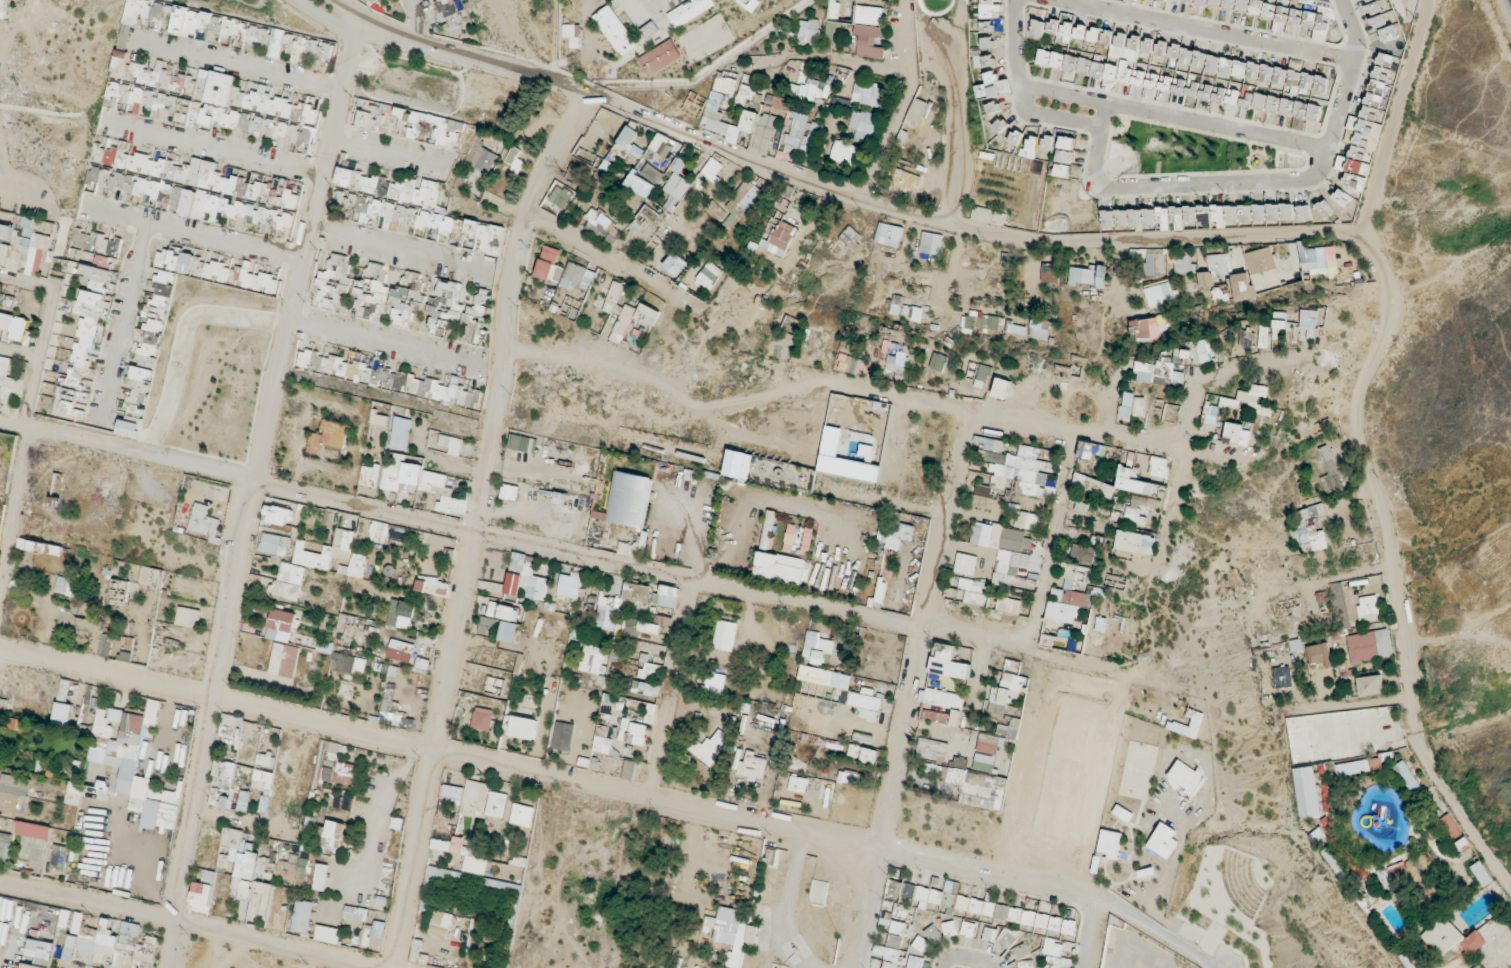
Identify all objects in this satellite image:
water park: (1405, 862)

